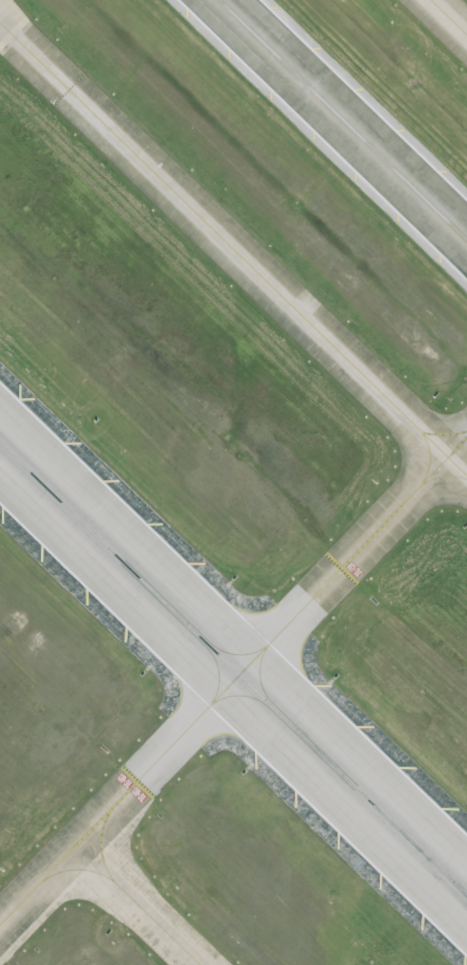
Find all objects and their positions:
airport taxiway: (449, 17)
airport runway: (343, 120)
airport taxiway: (233, 248)
airport: (233, 482)
airport runway: (233, 669)
airport taxiway: (234, 680)
airport taxiway: (79, 868)
airport taxiway: (129, 896)

